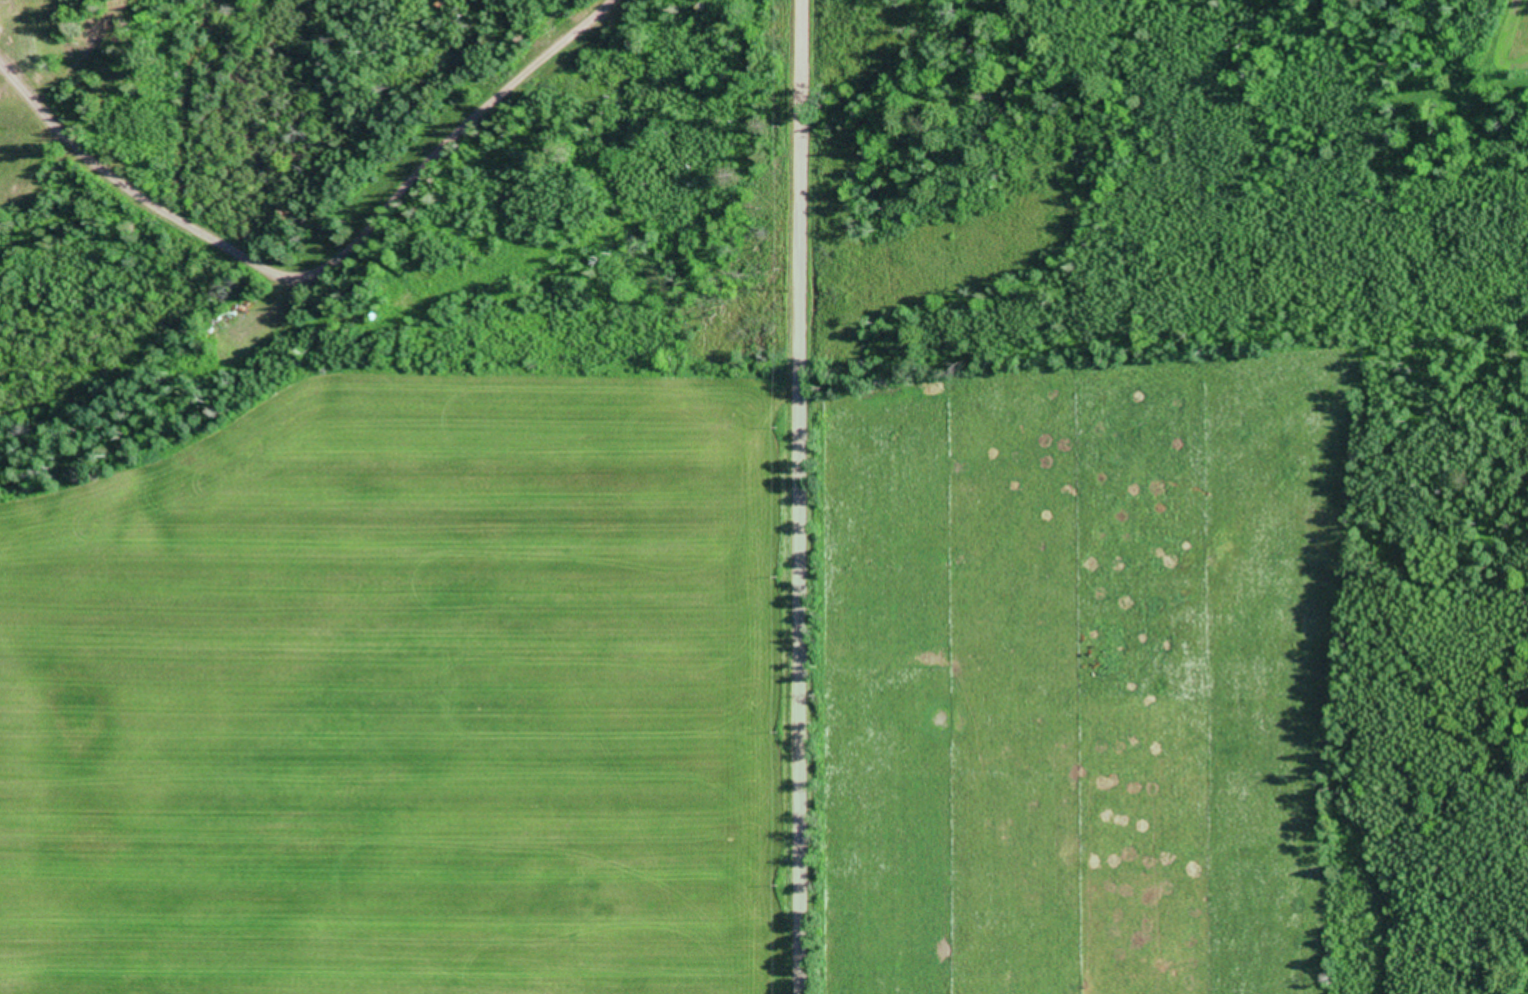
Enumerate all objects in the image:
road: (315, 266)
road: (807, 497)

